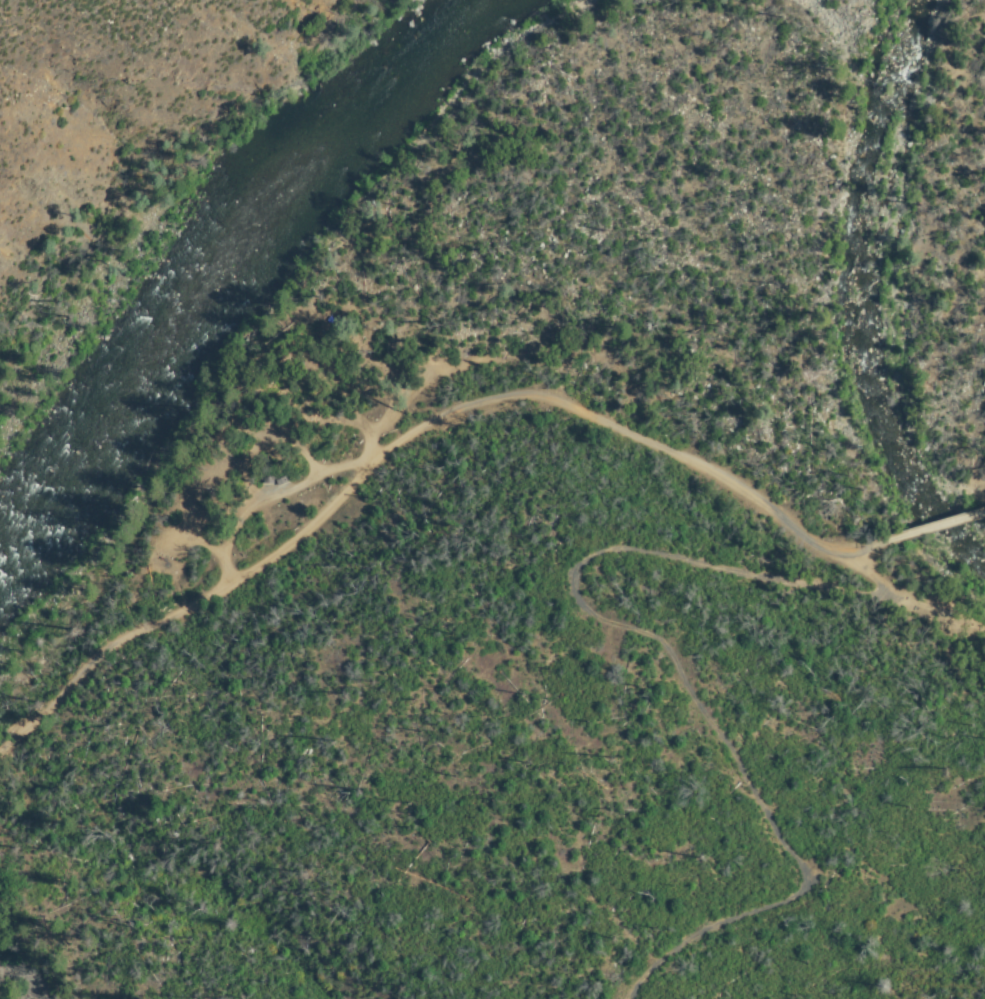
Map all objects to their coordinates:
river: (230, 259)
river: (876, 297)
road: (411, 430)
road: (938, 526)
road: (662, 642)

